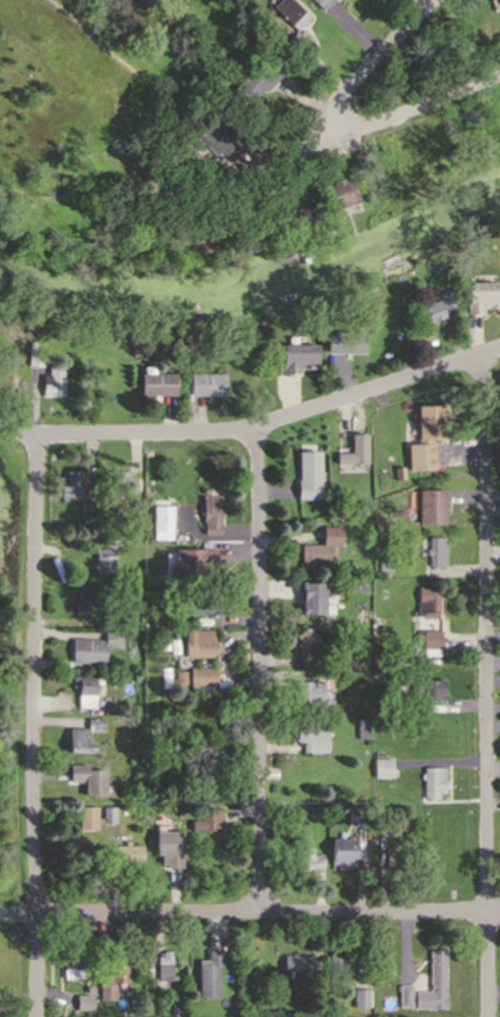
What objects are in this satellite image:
building: (320, 4)
building: (287, 11)
building: (296, 41)
road: (377, 57)
building: (256, 75)
road: (420, 111)
building: (215, 137)
building: (426, 150)
road: (294, 156)
building: (384, 177)
building: (339, 193)
building: (296, 216)
building: (324, 234)
building: (309, 244)
building: (484, 297)
building: (448, 300)
building: (430, 312)
building: (344, 338)
building: (139, 343)
building: (35, 354)
building: (296, 358)
building: (51, 384)
building: (164, 385)
building: (208, 386)
building: (428, 421)
road: (255, 430)
building: (353, 450)
building: (419, 456)
building: (397, 472)
building: (309, 477)
building: (121, 481)
building: (69, 484)
building: (139, 496)
building: (86, 509)
building: (434, 511)
building: (207, 515)
building: (161, 519)
building: (143, 522)
building: (116, 537)
building: (316, 548)
building: (432, 551)
building: (103, 559)
building: (194, 561)
building: (383, 565)
building: (112, 588)
building: (313, 600)
building: (423, 601)
building: (82, 605)
building: (199, 605)
building: (427, 640)
building: (198, 642)
building: (303, 644)
building: (81, 647)
road: (259, 670)
building: (200, 676)
building: (176, 679)
building: (431, 686)
building: (83, 687)
road: (490, 687)
building: (305, 693)
building: (390, 706)
building: (96, 723)
building: (361, 725)
road: (34, 728)
building: (309, 738)
building: (78, 740)
building: (205, 745)
building: (382, 766)
building: (201, 776)
building: (86, 777)
building: (432, 779)
building: (311, 808)
building: (95, 816)
building: (357, 816)
building: (208, 818)
building: (167, 849)
building: (343, 851)
building: (127, 853)
building: (390, 854)
building: (301, 855)
road: (249, 910)
building: (73, 962)
building: (295, 962)
building: (118, 965)
building: (162, 966)
building: (257, 966)
building: (332, 970)
building: (211, 975)
building: (432, 985)
building: (105, 989)
building: (402, 993)
building: (359, 996)
building: (83, 1002)
building: (173, 1006)

